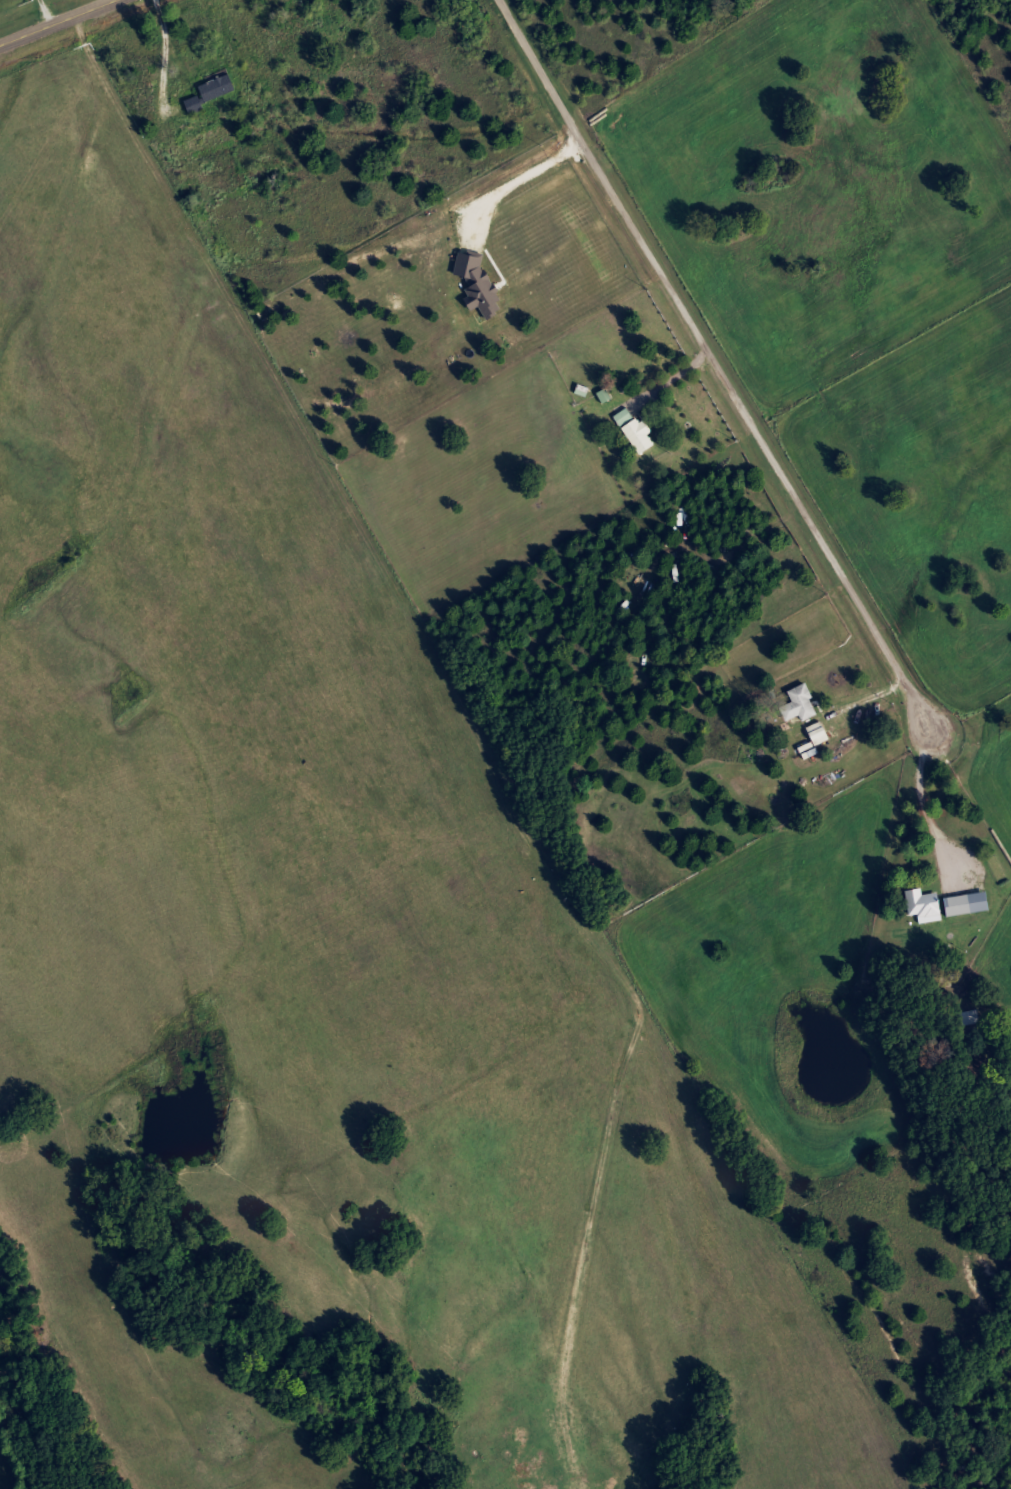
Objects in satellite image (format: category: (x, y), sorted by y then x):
road: (69, 26)
road: (160, 57)
building: (207, 90)
building: (476, 285)
building: (631, 430)
road: (752, 434)
building: (796, 704)
building: (814, 733)
building: (916, 902)
building: (954, 905)
building: (968, 1018)

